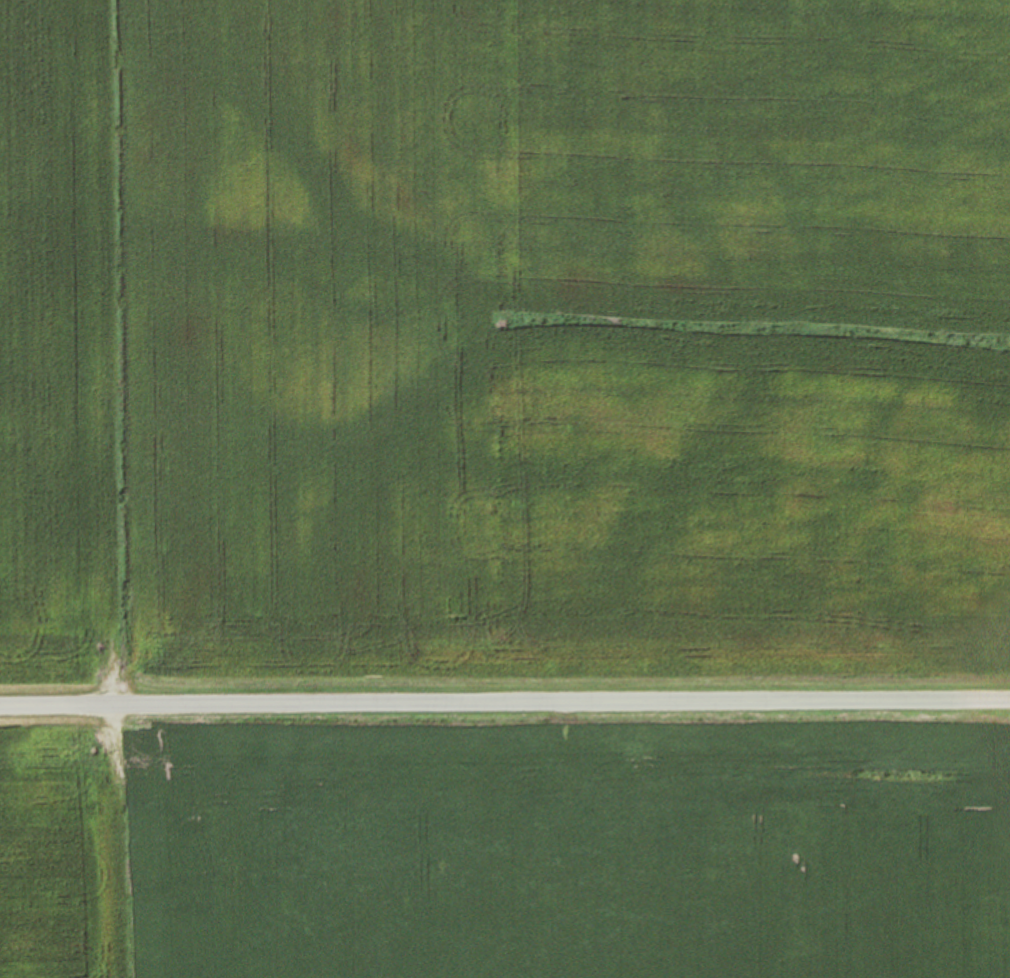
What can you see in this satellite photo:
road: (505, 713)

